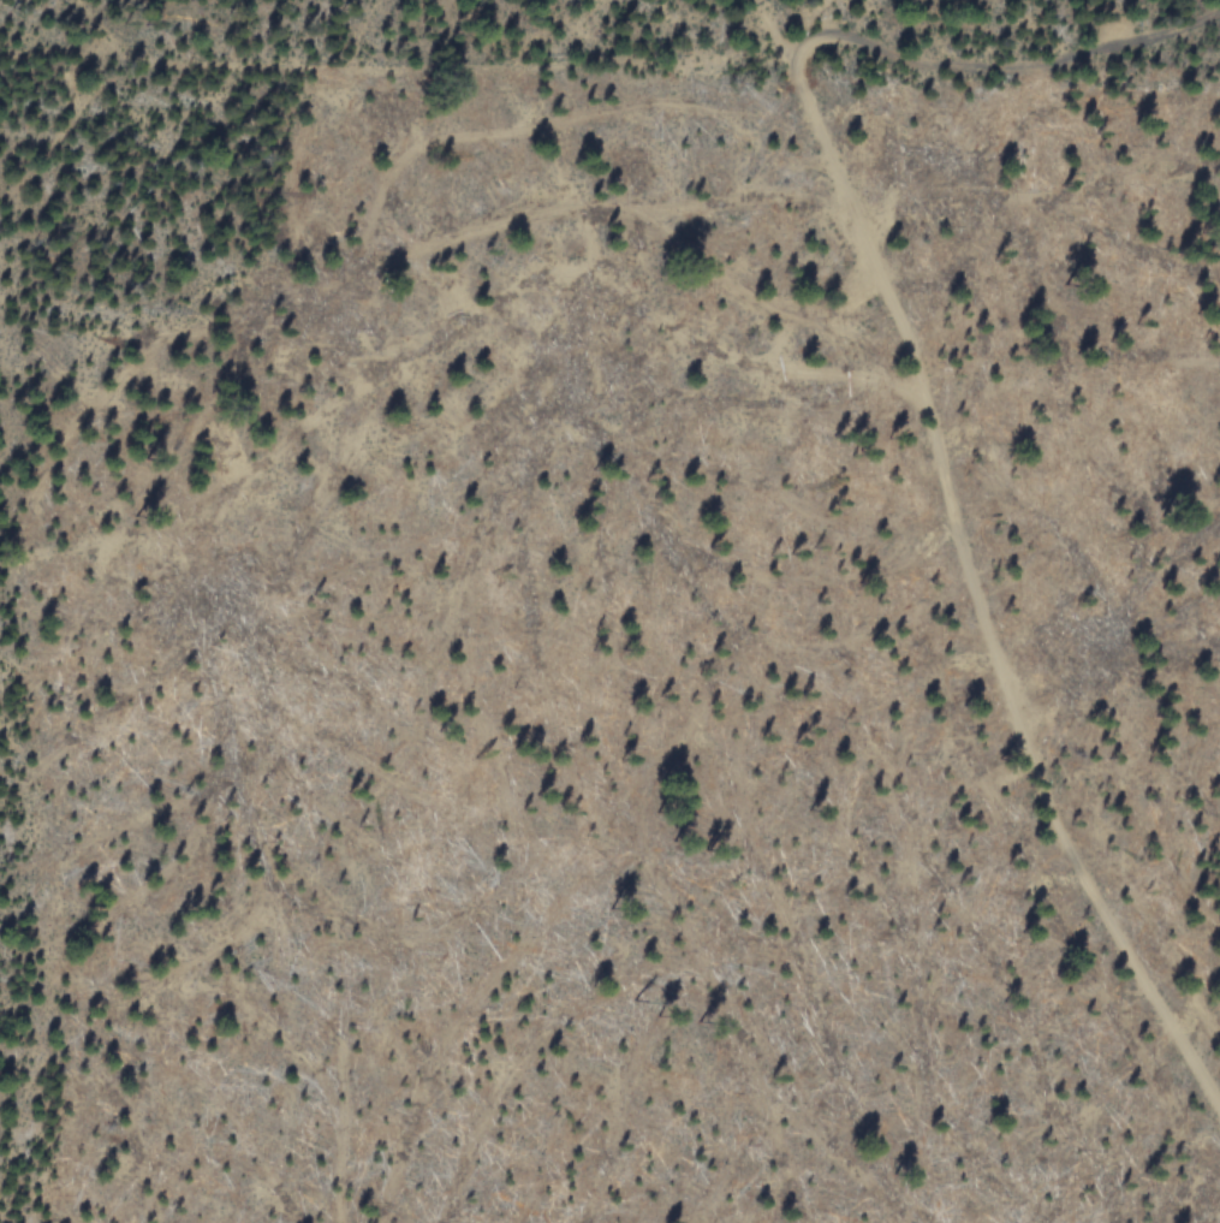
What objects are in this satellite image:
road: (1000, 69)
road: (79, 113)
road: (968, 565)

